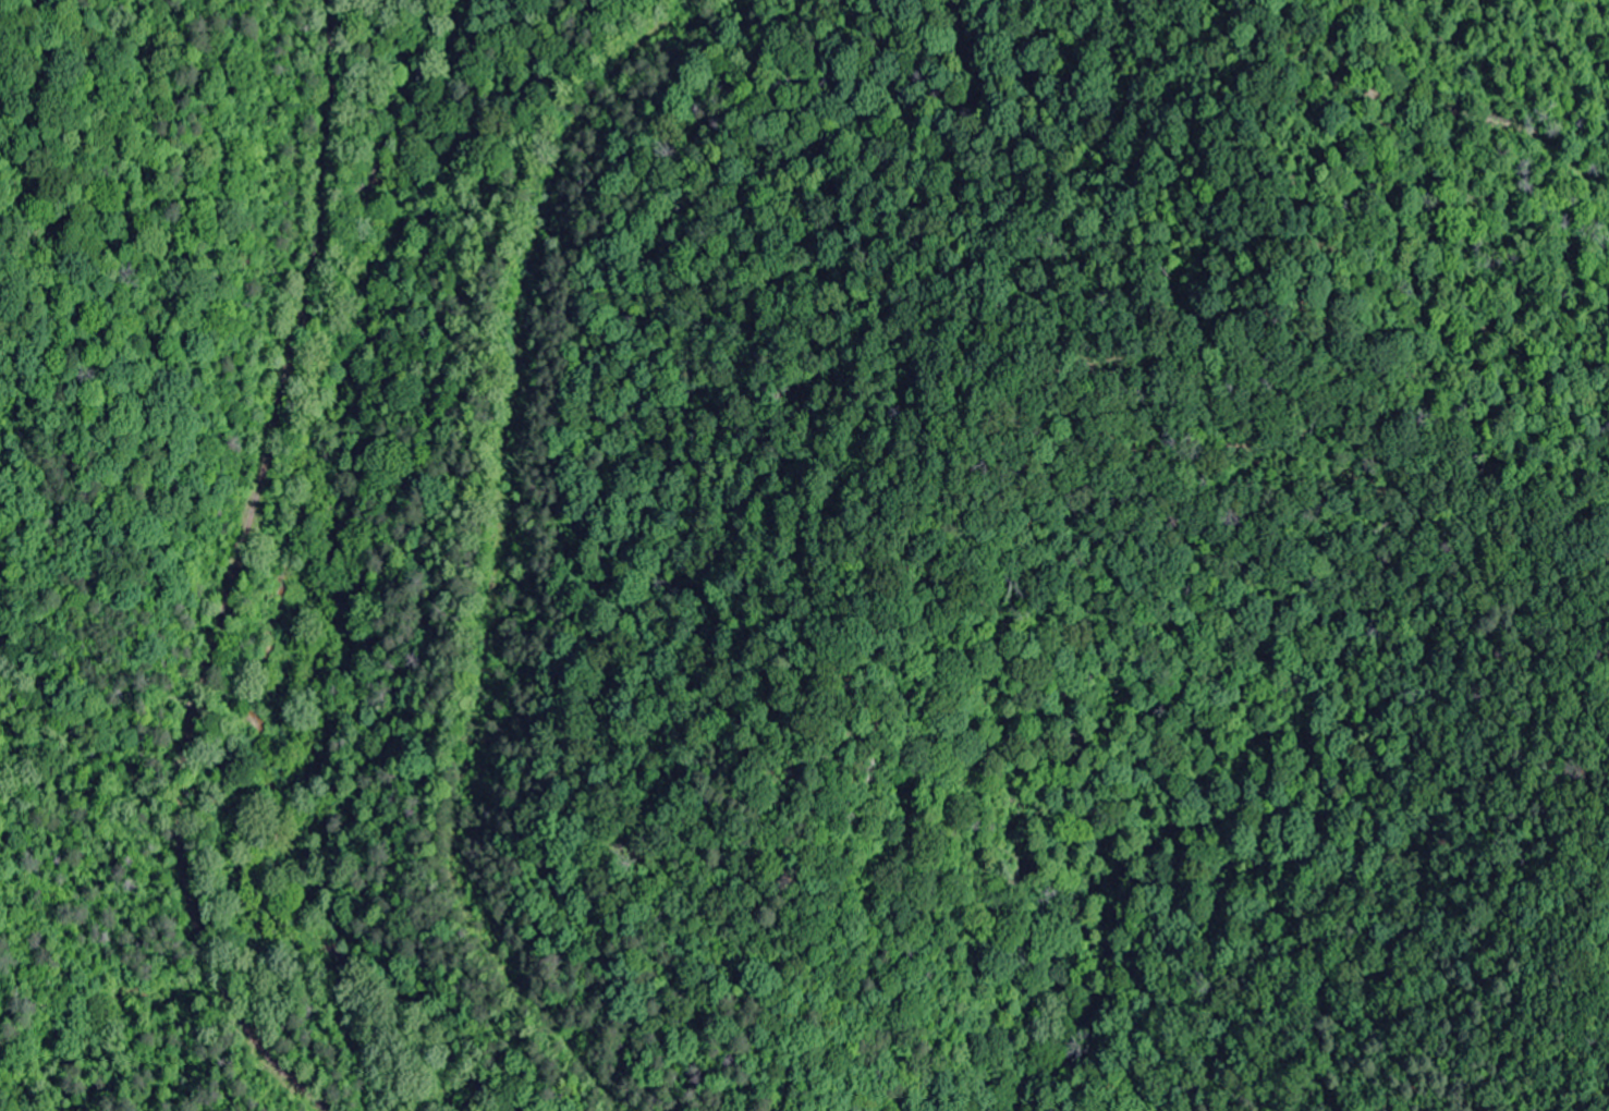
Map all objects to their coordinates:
road: (464, 545)
road: (242, 560)

